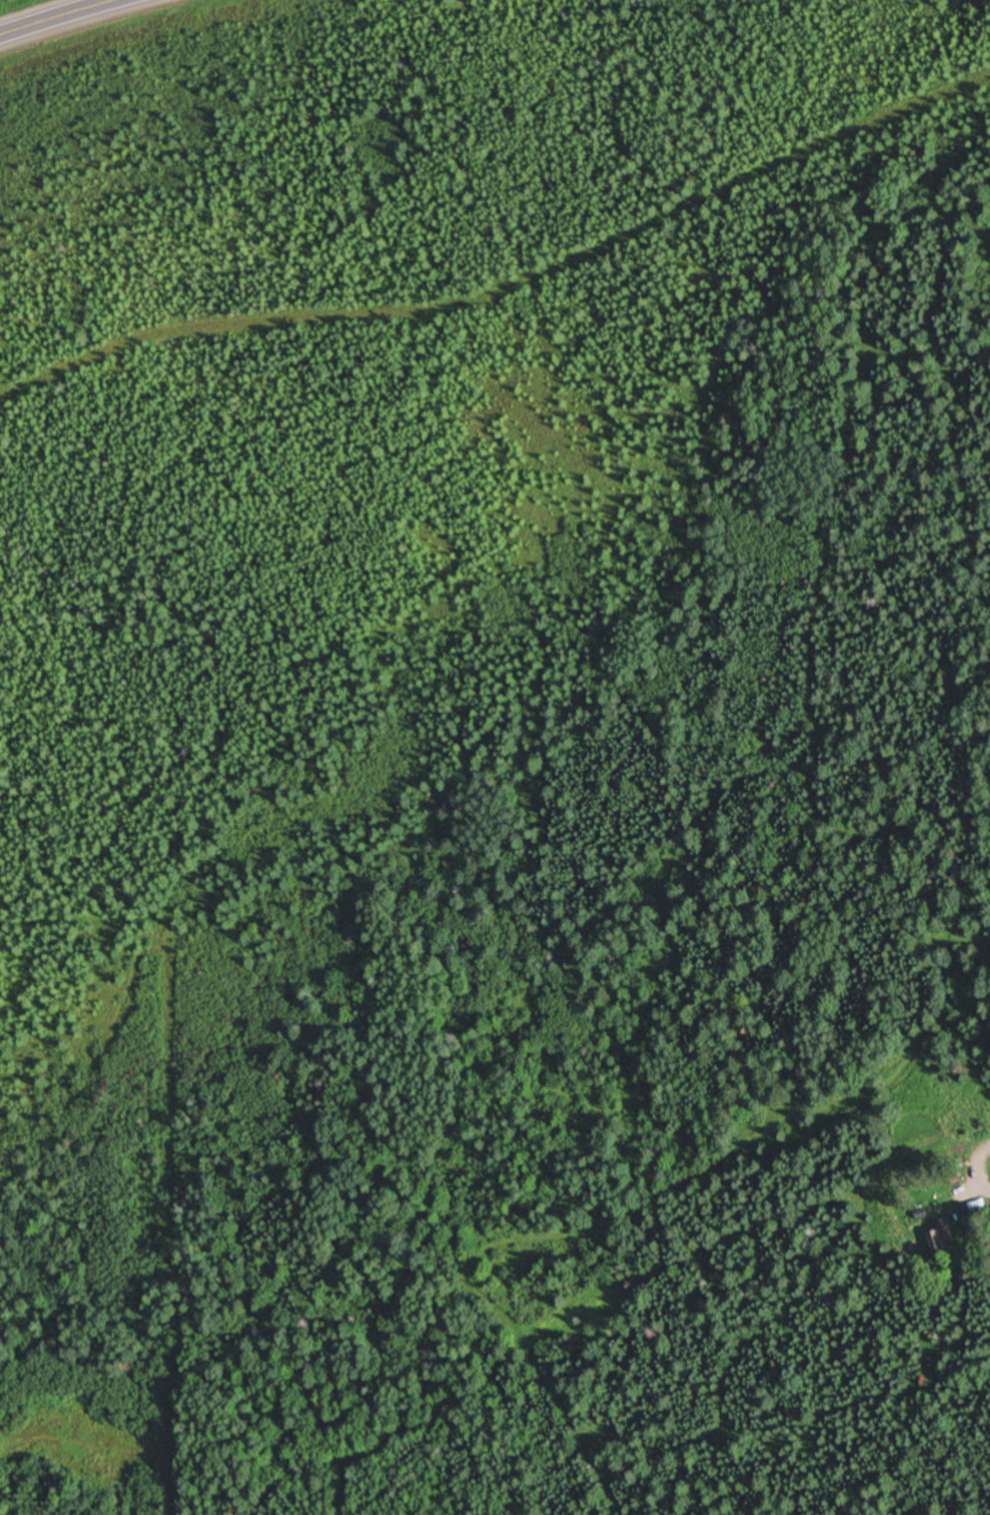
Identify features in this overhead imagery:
road: (57, 17)
building: (932, 1242)

